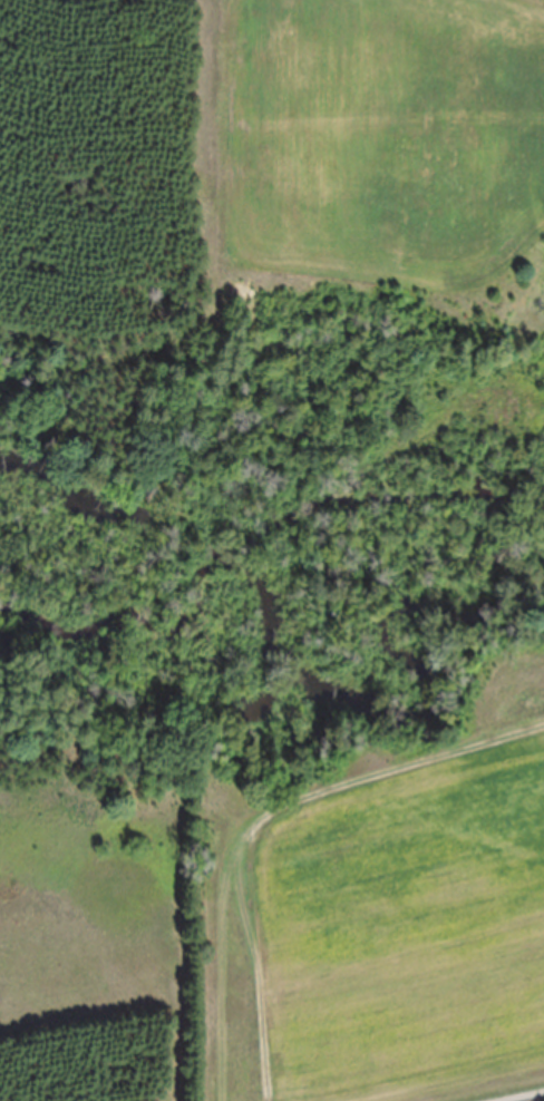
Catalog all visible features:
road: (537, 1099)

